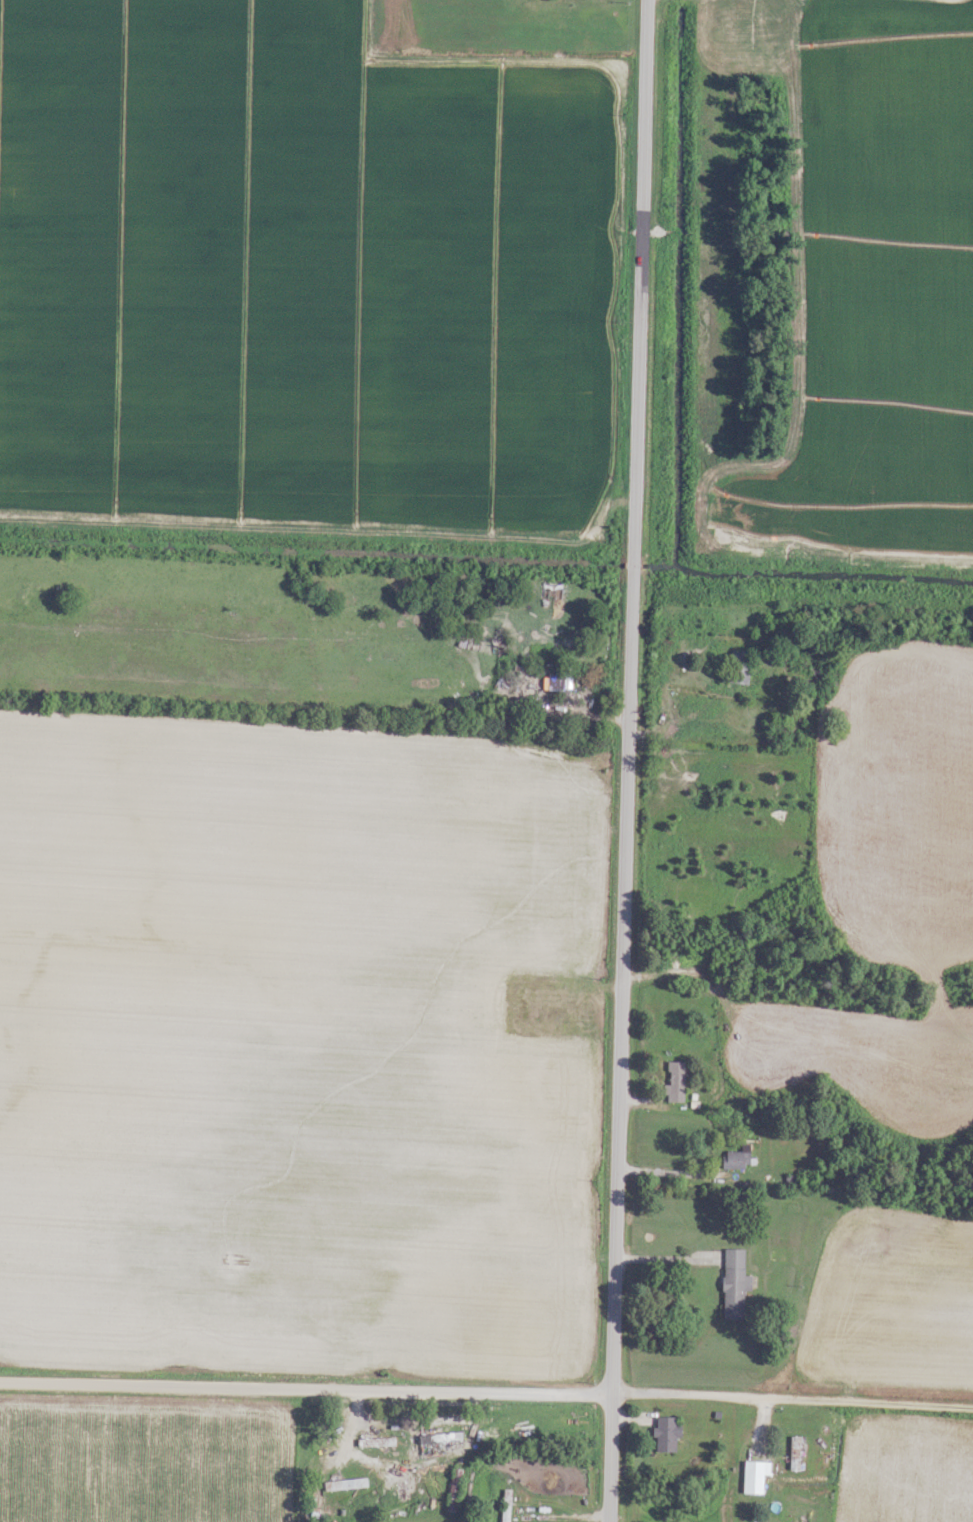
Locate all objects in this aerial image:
road: (754, 3)
building: (737, 668)
building: (555, 682)
road: (662, 697)
road: (627, 760)
building: (674, 1081)
building: (737, 1157)
road: (679, 1174)
road: (670, 1258)
building: (734, 1285)
road: (486, 1393)
building: (665, 1434)
building: (375, 1441)
building: (792, 1452)
building: (753, 1477)
building: (345, 1484)
building: (505, 1505)

